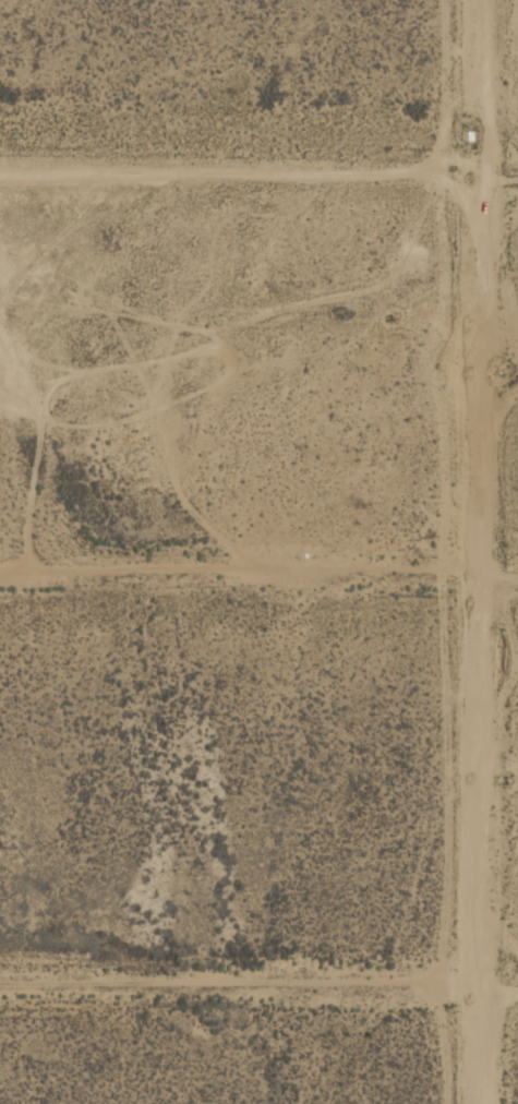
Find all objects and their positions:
road: (484, 552)

